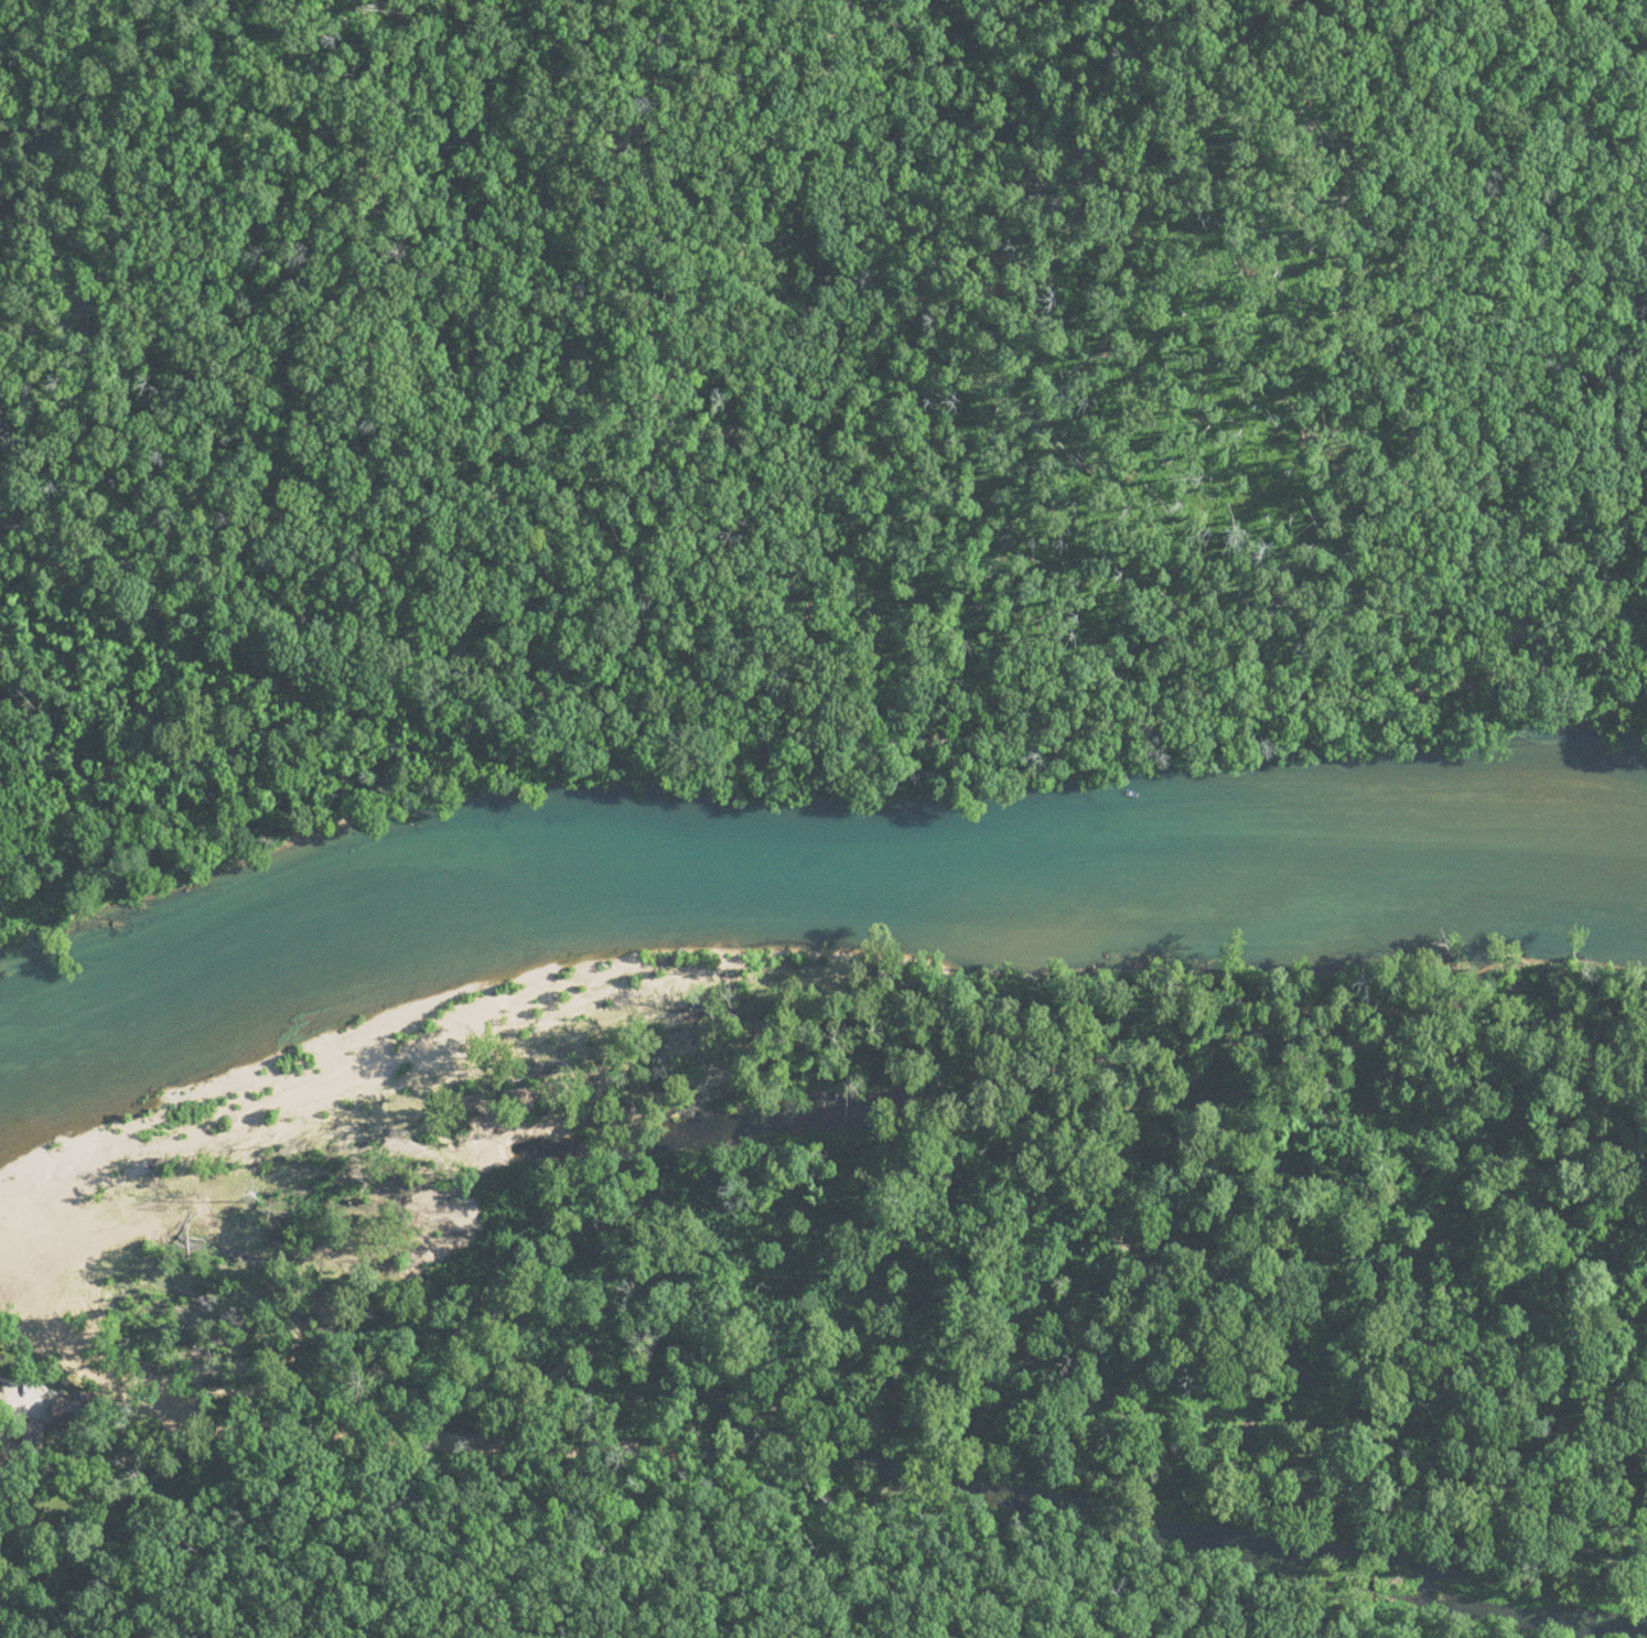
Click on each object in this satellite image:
road: (1583, 625)
road: (743, 716)
river: (810, 873)

